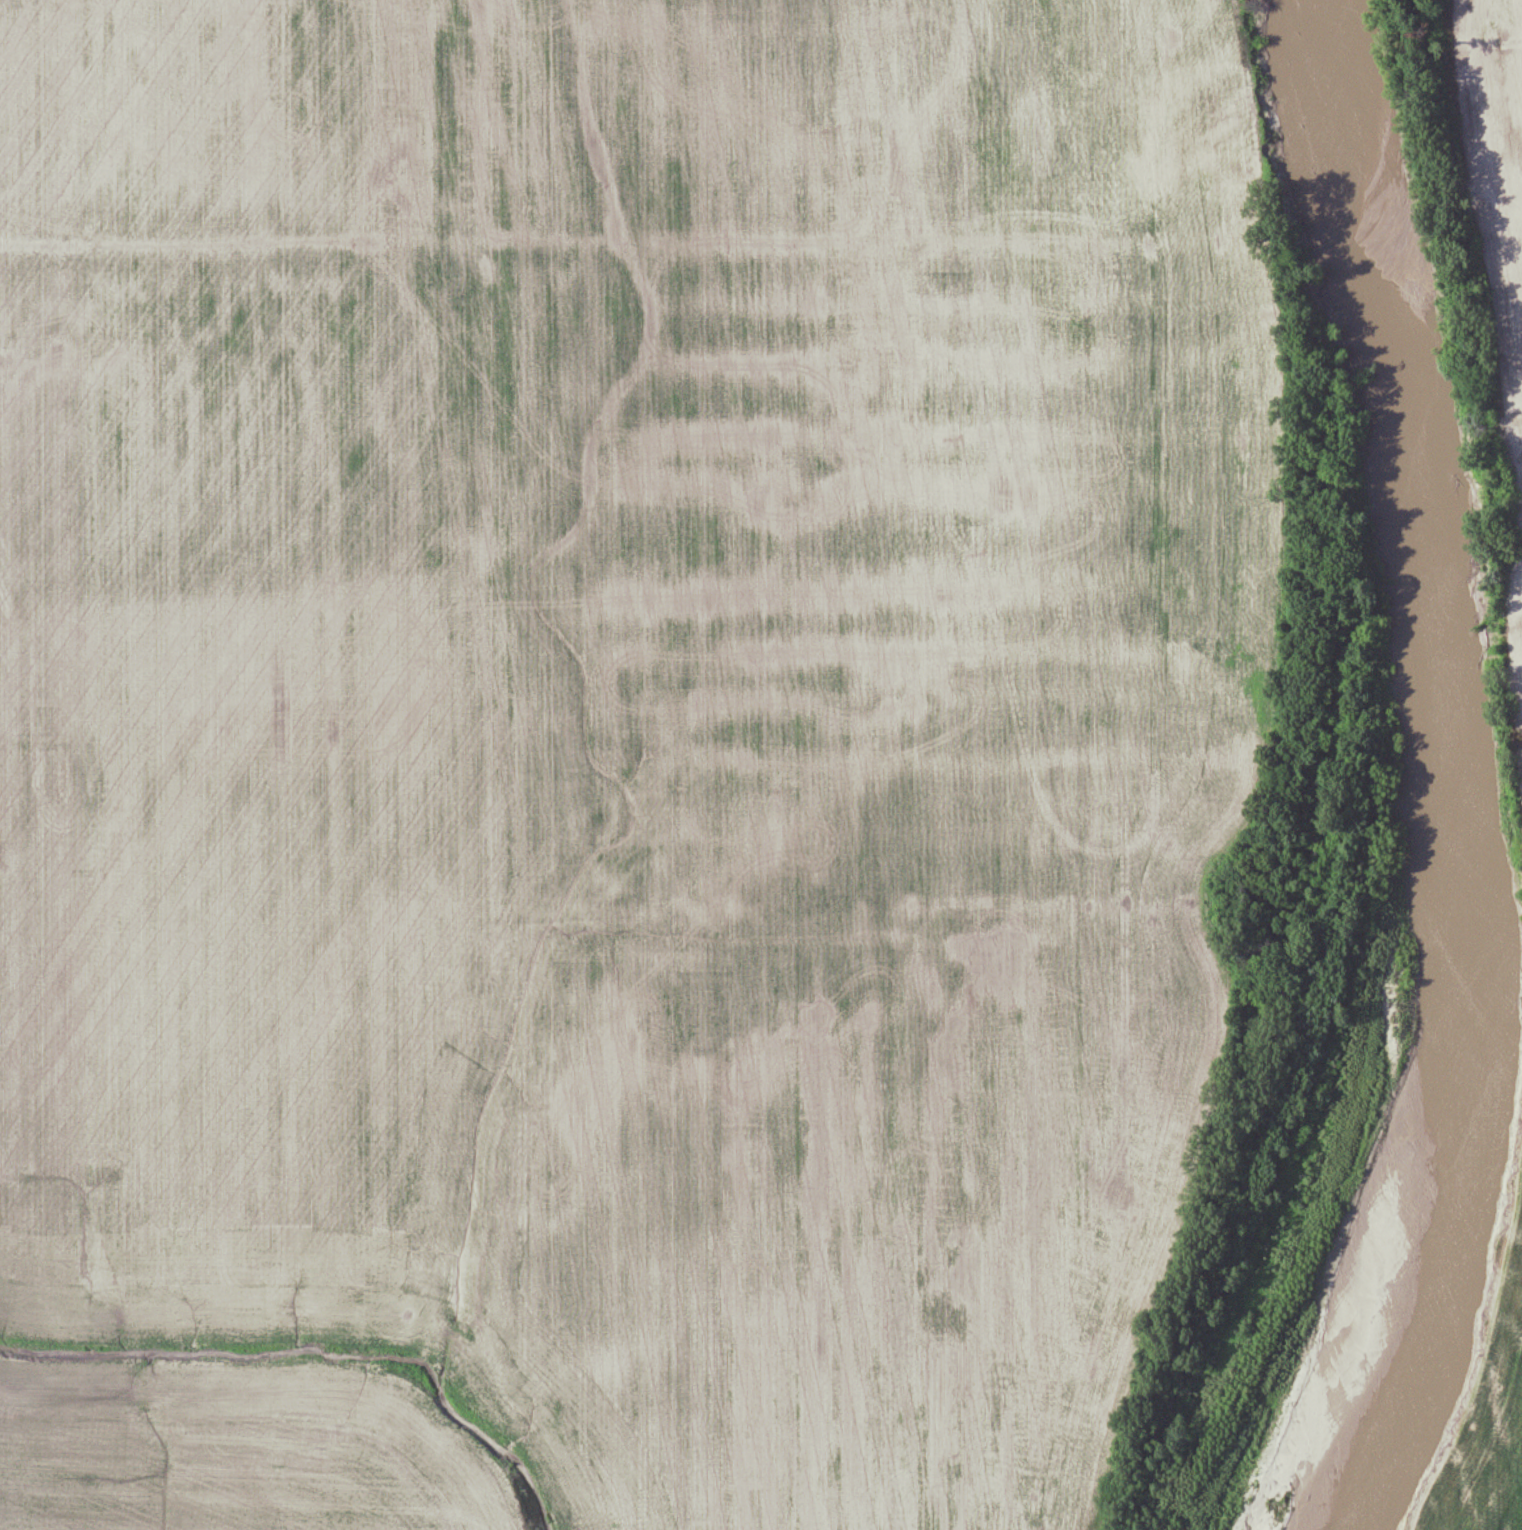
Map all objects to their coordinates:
road: (1498, 1122)

